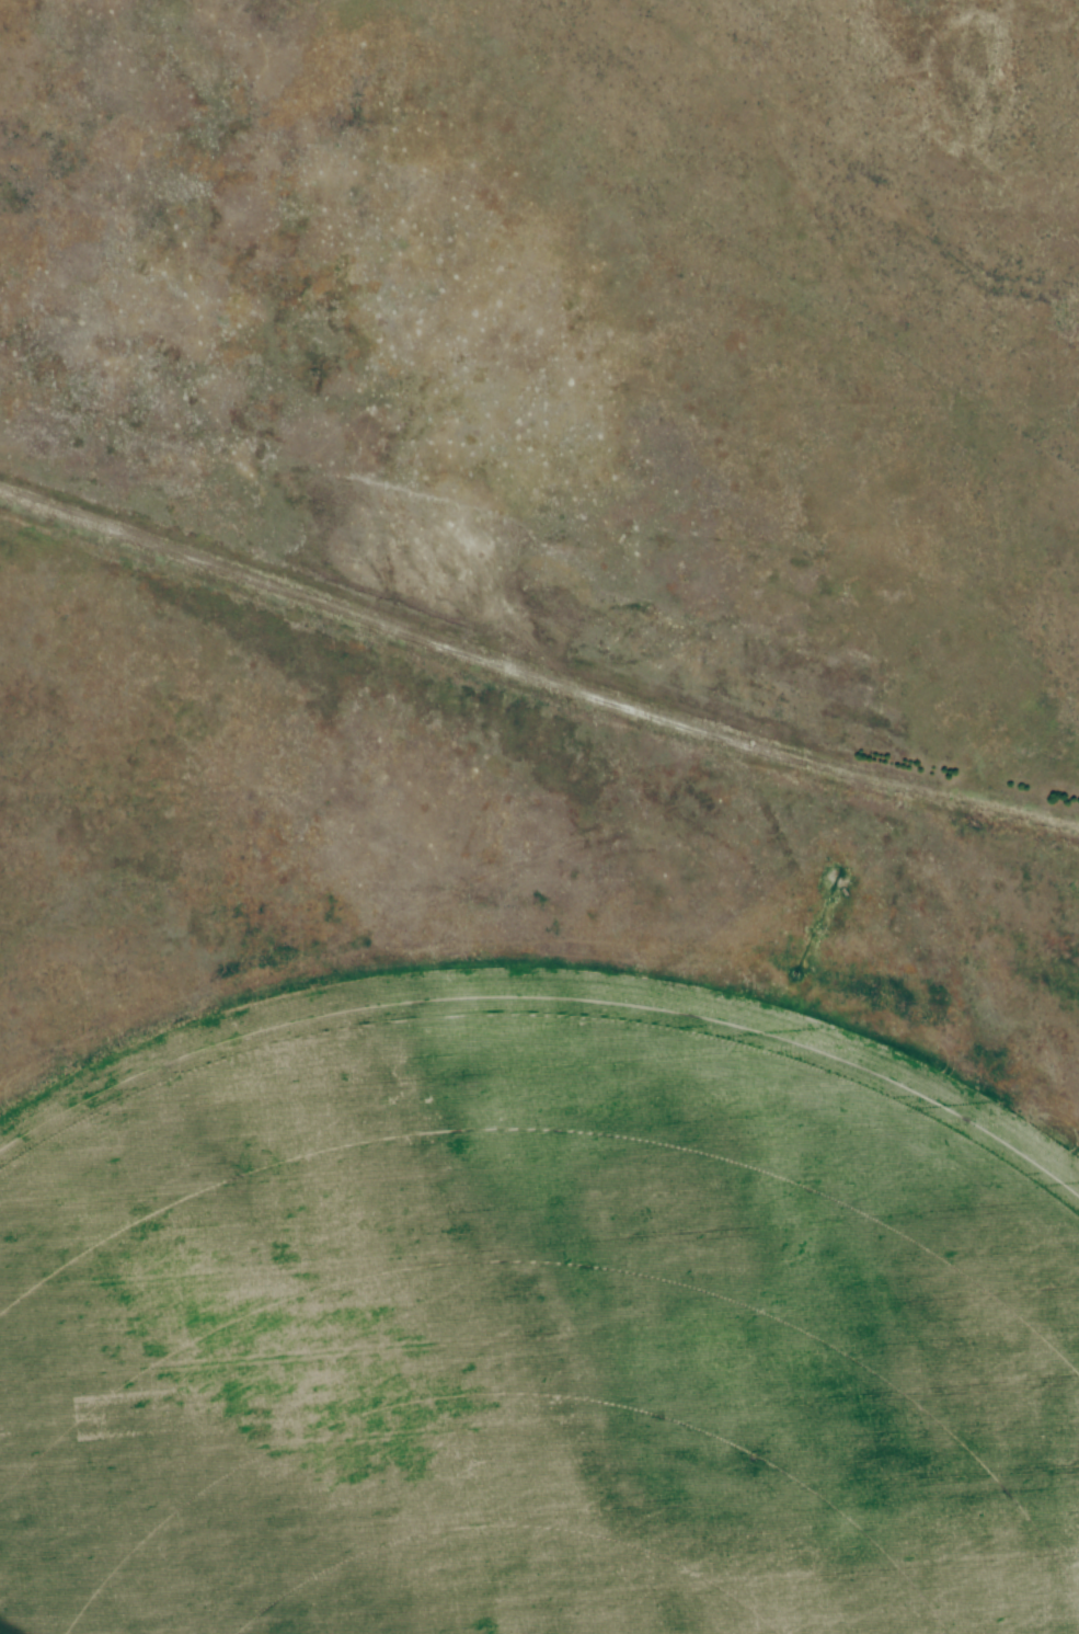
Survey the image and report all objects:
crop: (533, 1324)

